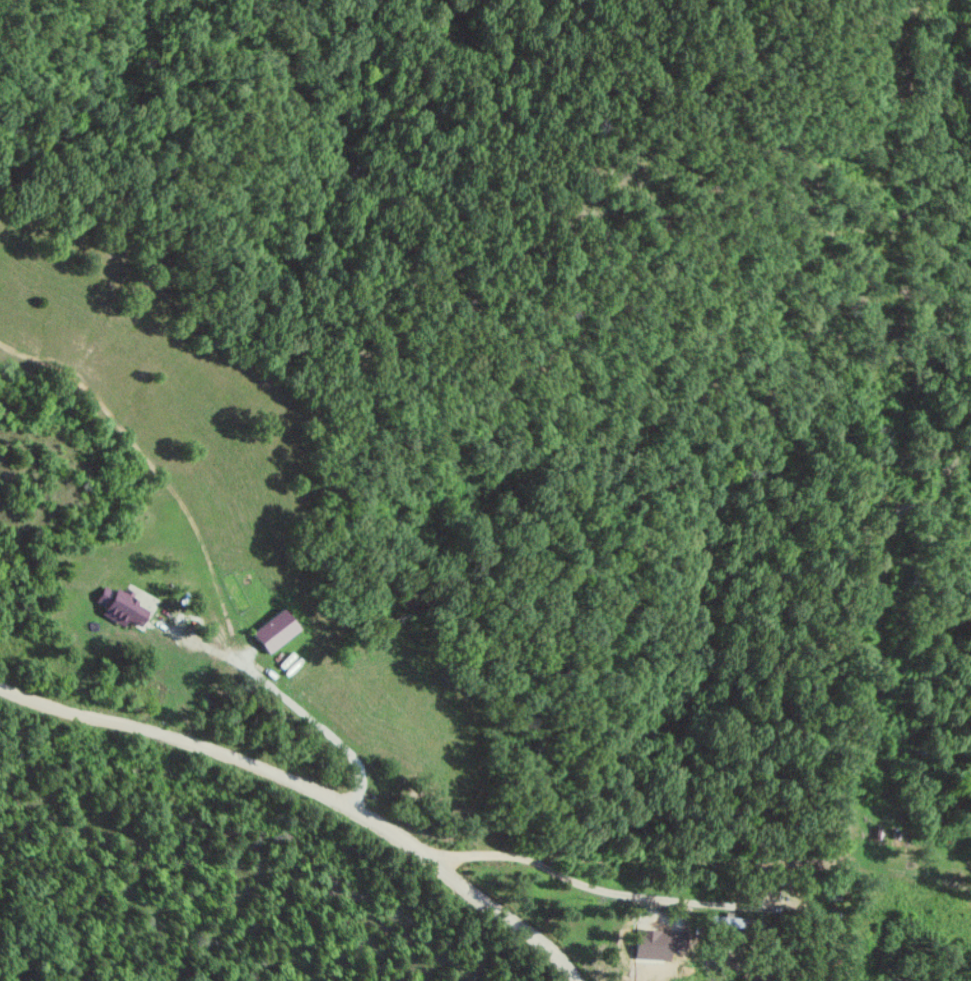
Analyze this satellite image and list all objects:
building: (121, 609)
building: (271, 631)
road: (314, 788)
building: (734, 924)

